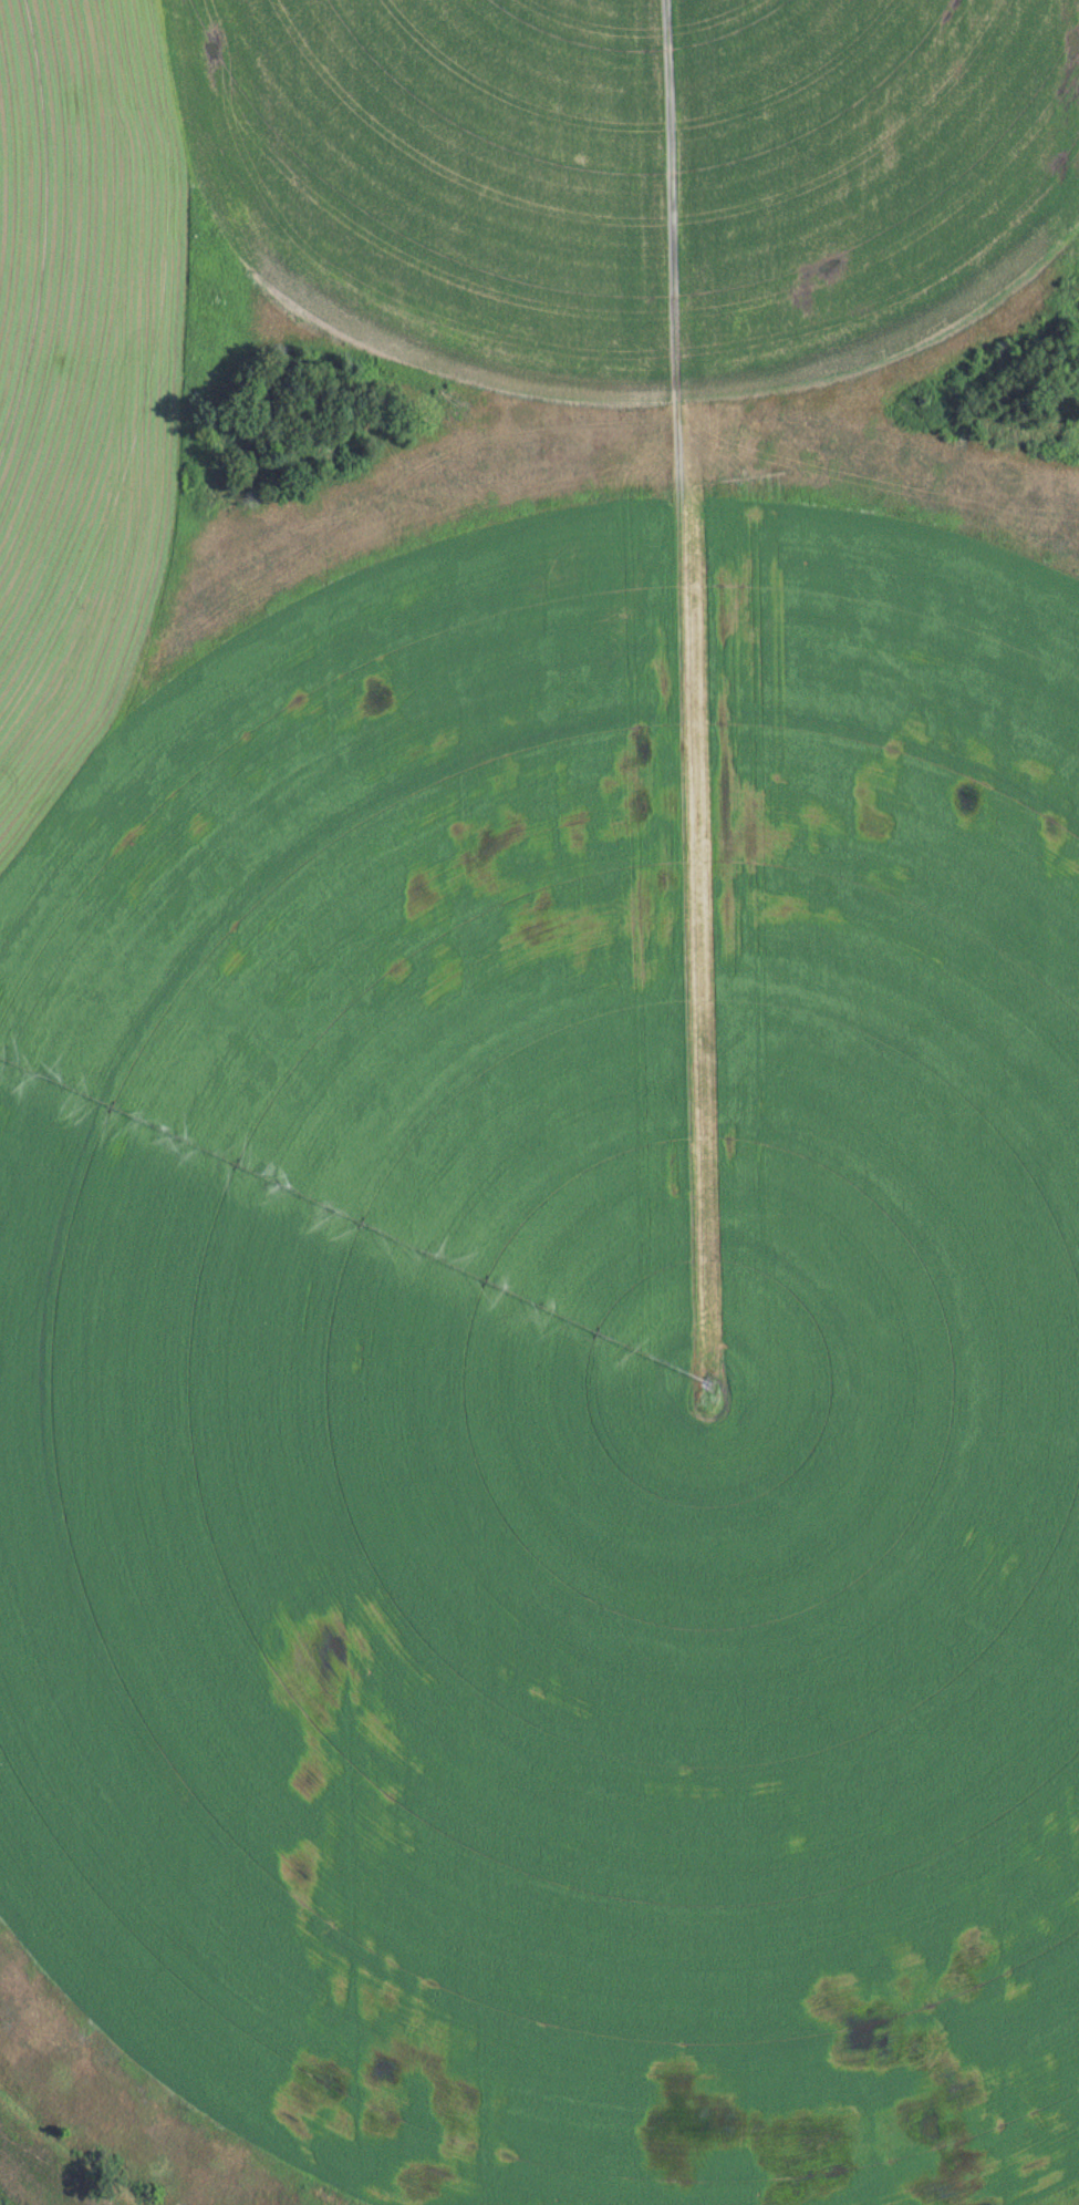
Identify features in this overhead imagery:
wastewater plant: (539, 1102)

